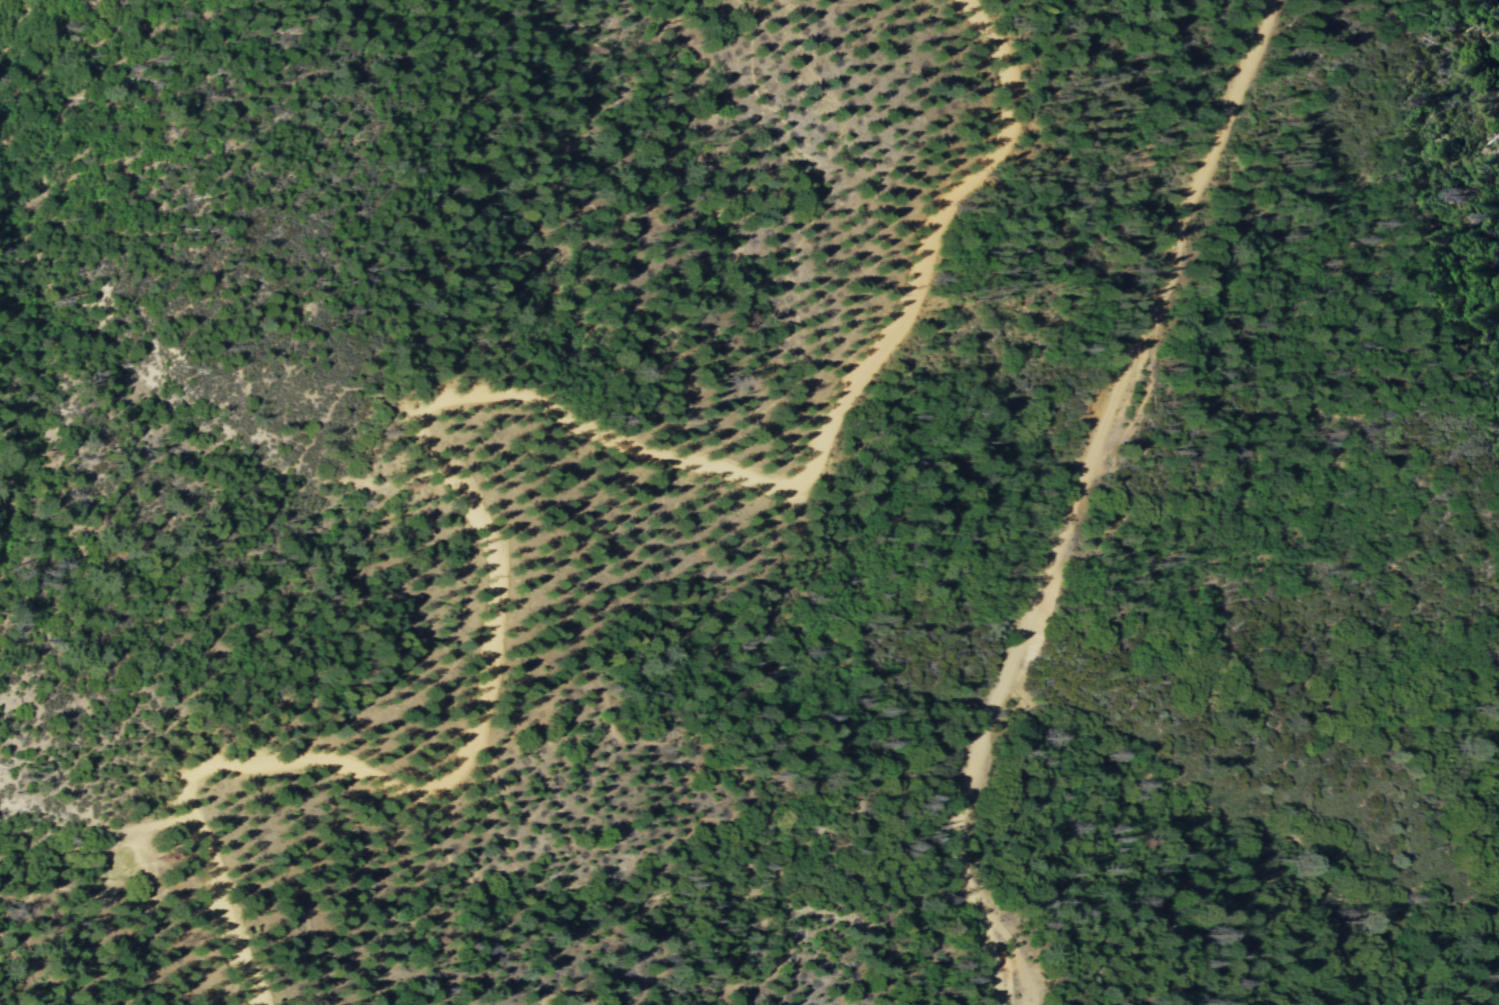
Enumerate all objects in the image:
road: (448, 402)
road: (1078, 500)

